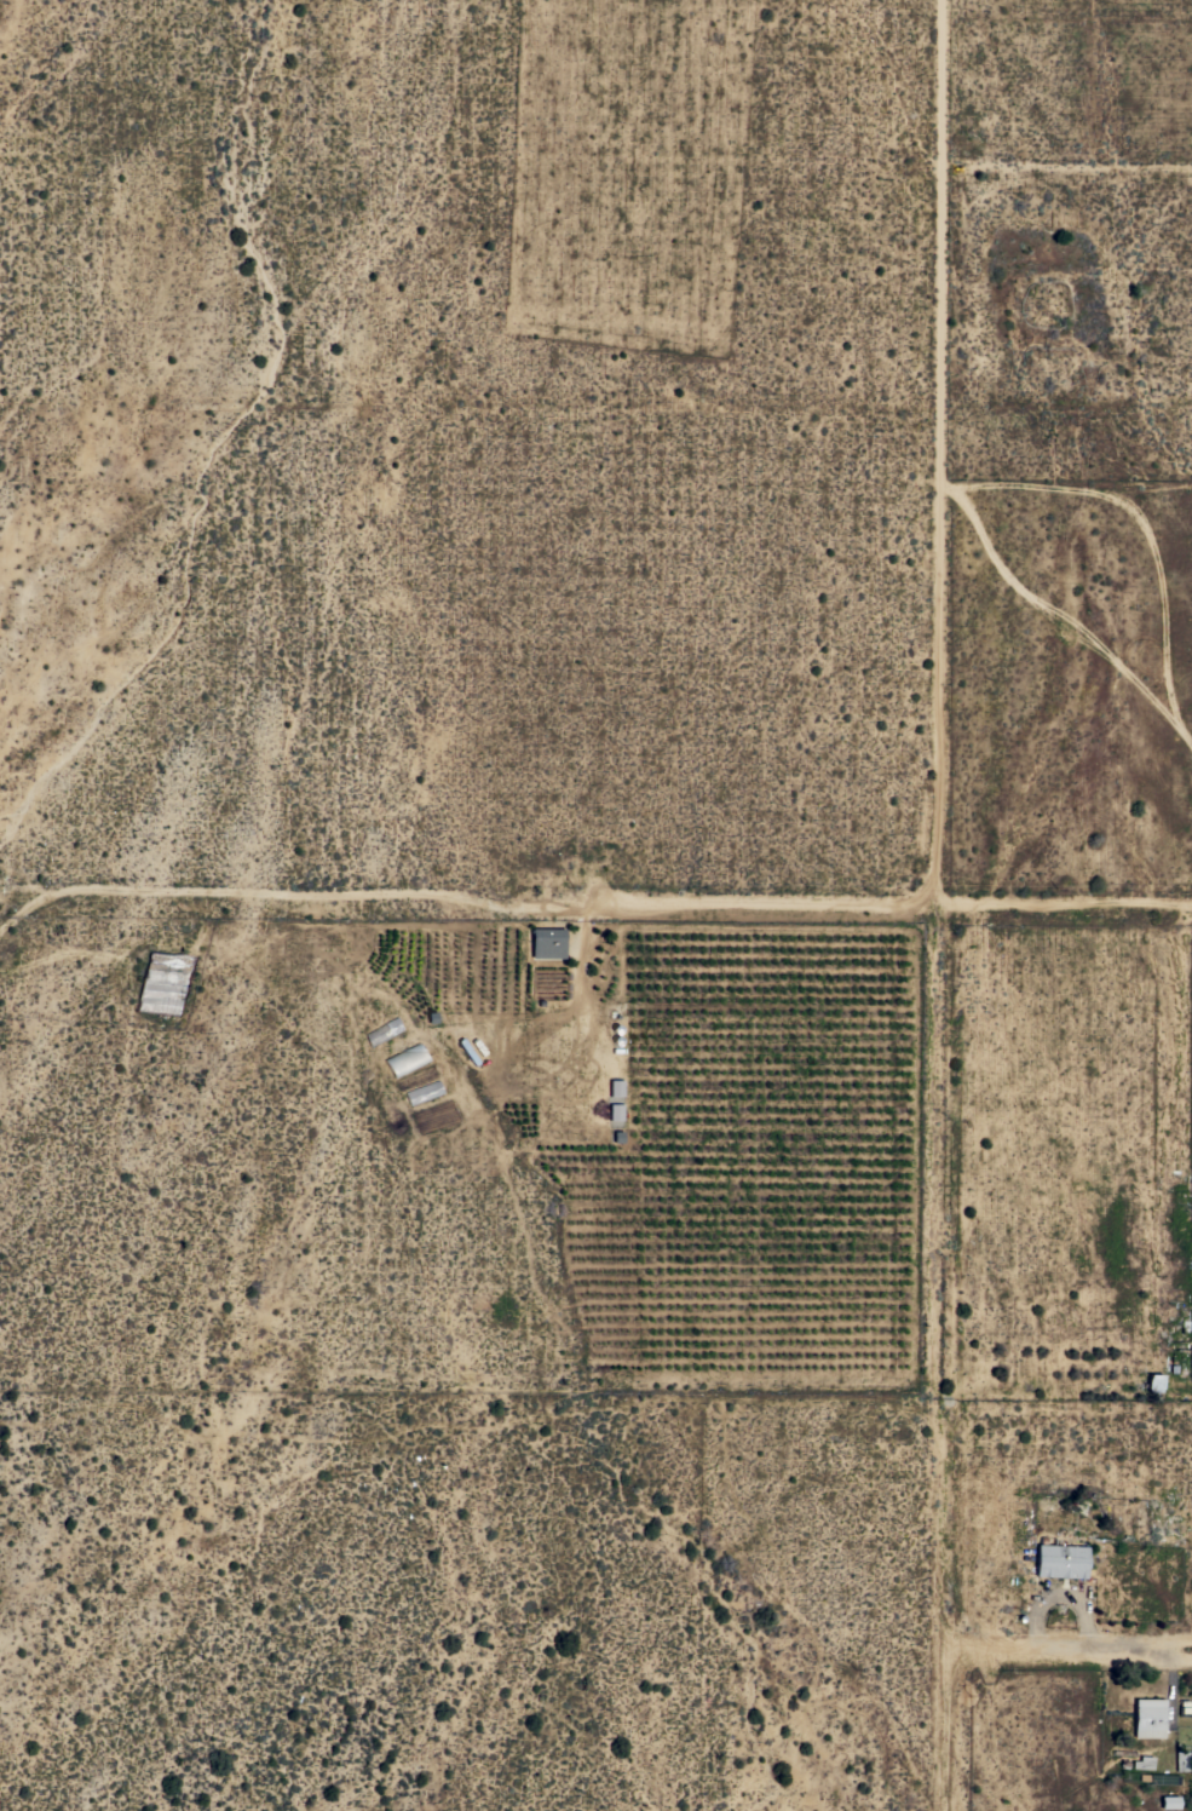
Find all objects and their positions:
road: (1066, 171)
road: (462, 892)
road: (1066, 899)
road: (939, 905)
building: (551, 936)
building: (615, 1088)
building: (1173, 1366)
building: (1153, 1382)
building: (1060, 1560)
road: (1069, 1650)
building: (1147, 1718)
building: (1181, 1760)
building: (1142, 1761)
building: (1169, 1803)

